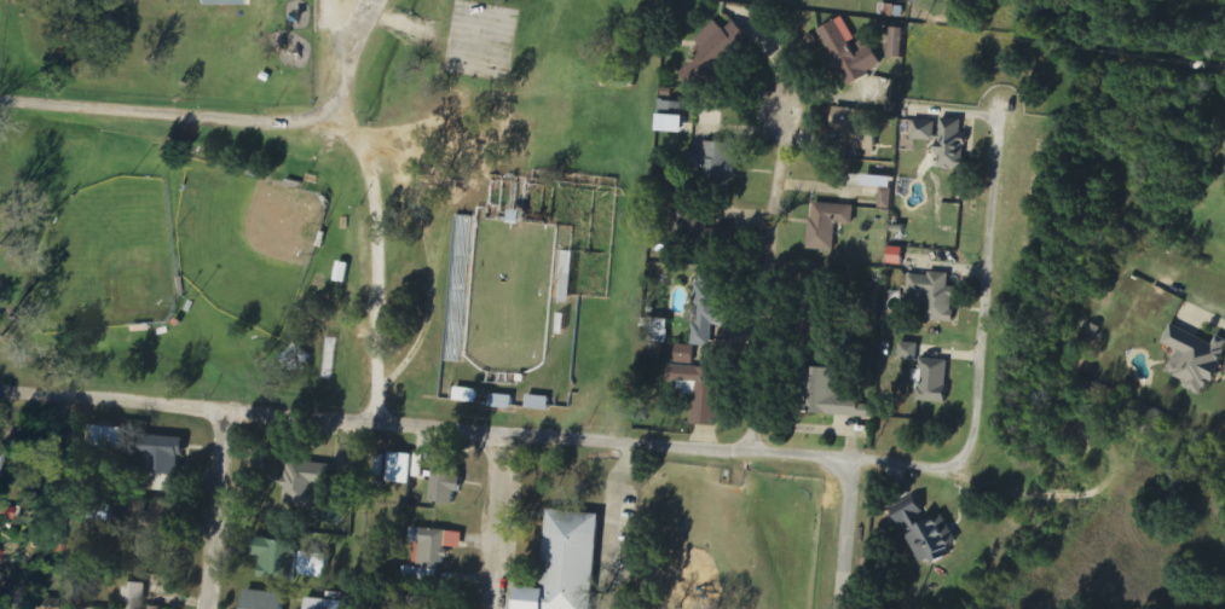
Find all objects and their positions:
building: (225, 2)
building: (890, 11)
building: (895, 42)
building: (716, 47)
building: (845, 52)
road: (891, 104)
building: (669, 117)
road: (175, 118)
building: (853, 129)
building: (923, 130)
building: (950, 144)
building: (715, 164)
building: (880, 190)
road: (380, 201)
building: (826, 225)
building: (340, 273)
road: (770, 283)
building: (931, 296)
building: (705, 309)
building: (908, 352)
building: (683, 355)
building: (294, 358)
building: (1194, 358)
building: (932, 381)
building: (699, 391)
road: (975, 394)
building: (464, 396)
building: (830, 396)
building: (502, 402)
building: (537, 404)
road: (377, 422)
building: (106, 437)
building: (161, 456)
building: (1, 468)
building: (404, 468)
building: (305, 483)
building: (444, 486)
building: (6, 512)
building: (100, 512)
building: (154, 514)
road: (215, 514)
road: (497, 524)
building: (924, 532)
building: (0, 551)
building: (431, 552)
building: (273, 559)
building: (571, 563)
building: (313, 564)
building: (0, 580)
building: (134, 596)
building: (260, 601)
building: (40, 603)
building: (420, 603)
building: (324, 604)

